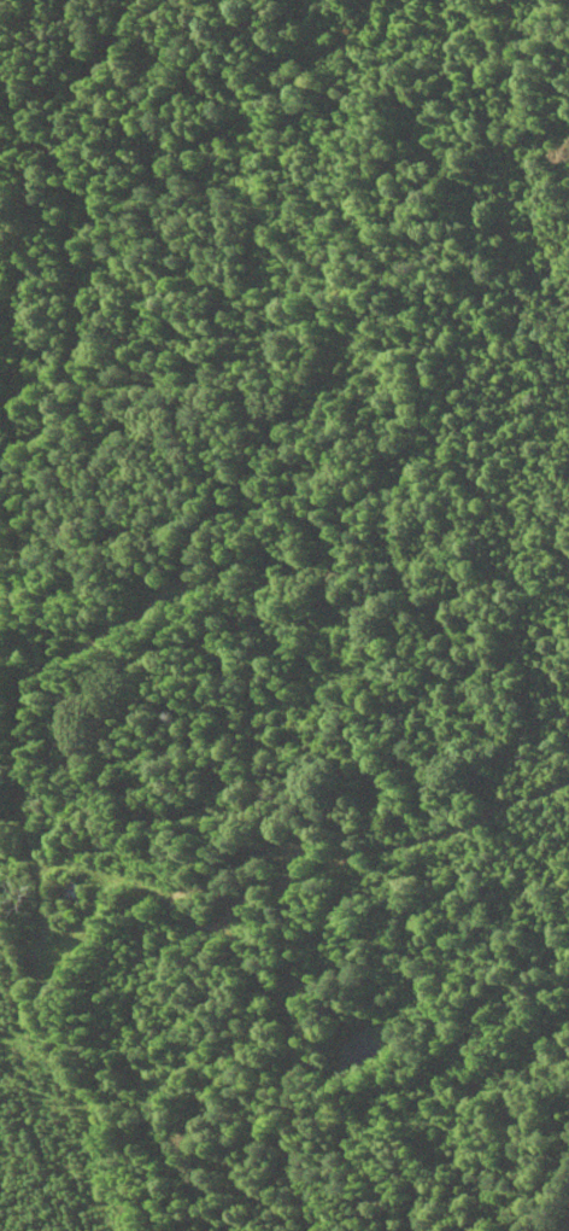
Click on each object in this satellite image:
road: (51, 1108)

